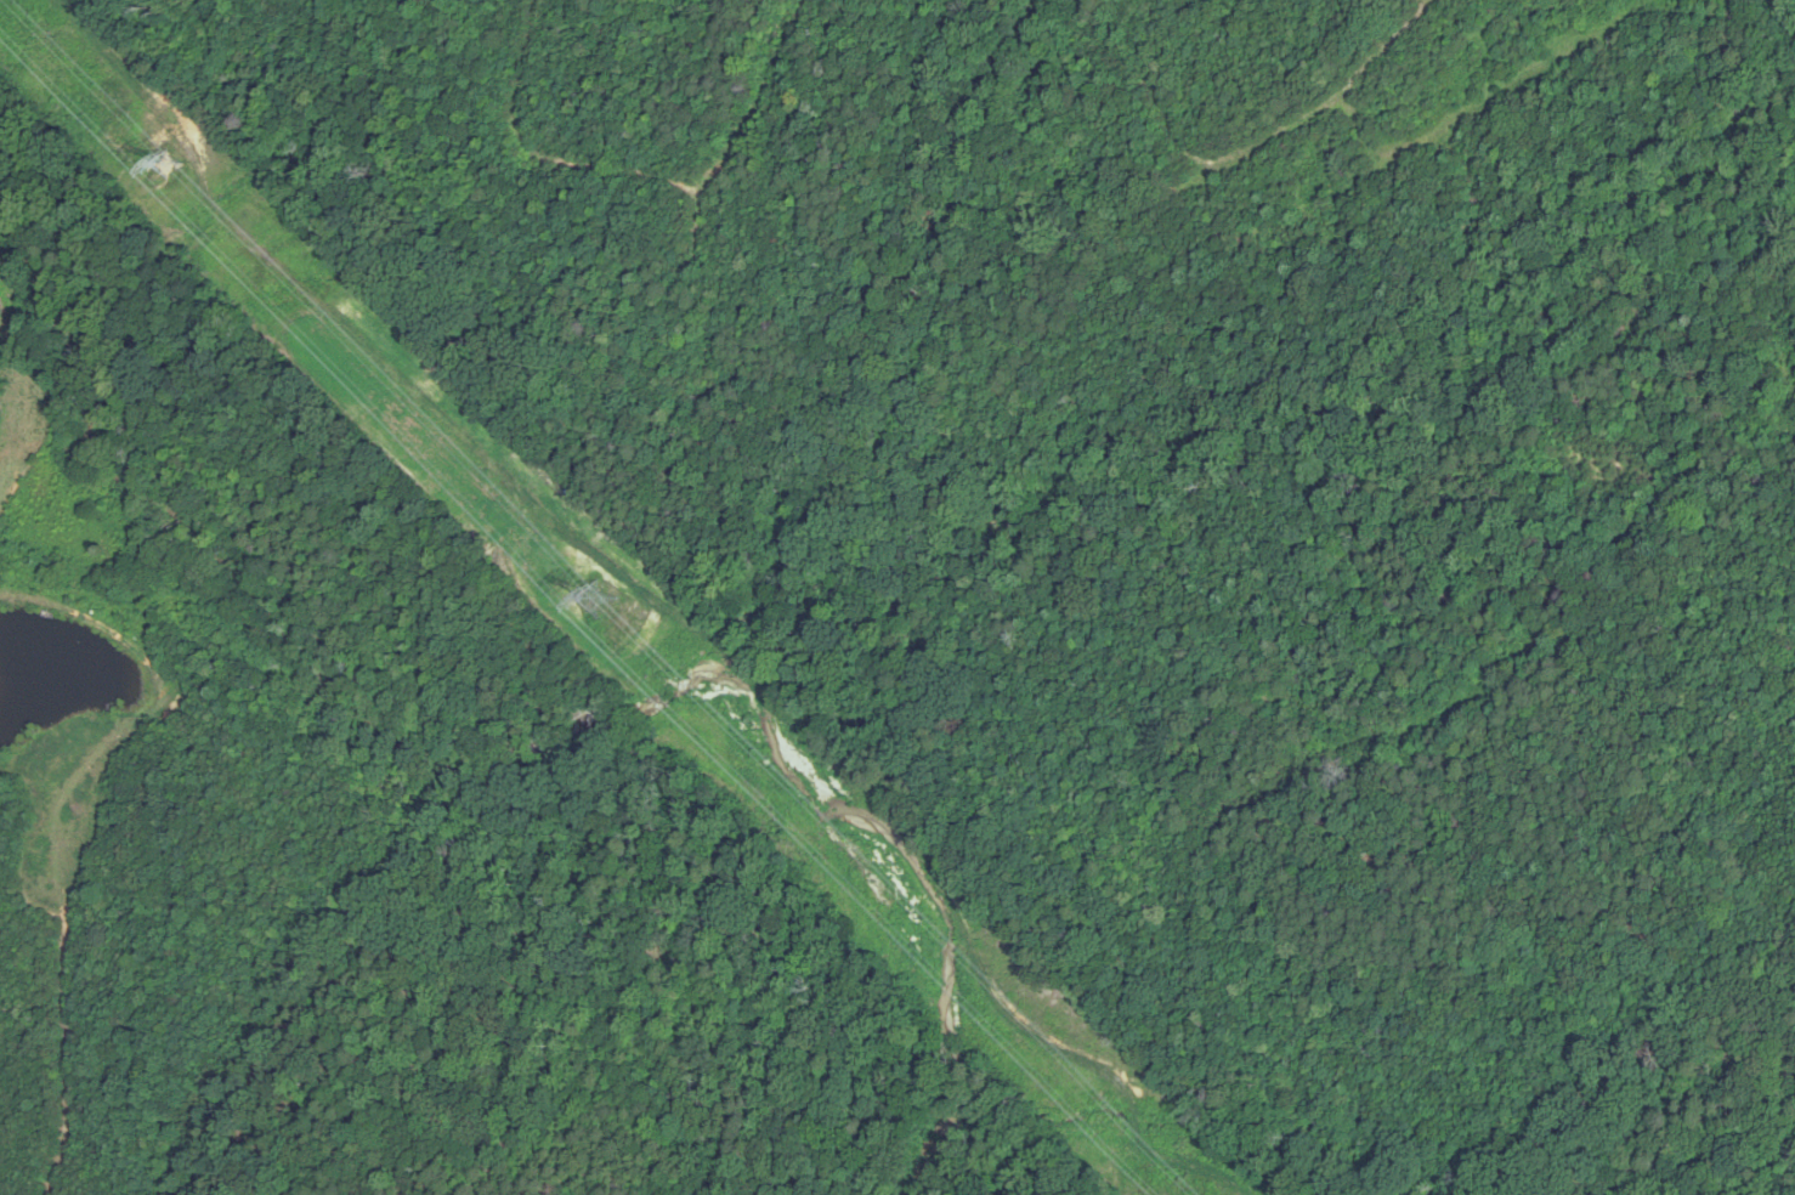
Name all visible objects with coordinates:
power tower: (171, 166)
power tower: (610, 610)

